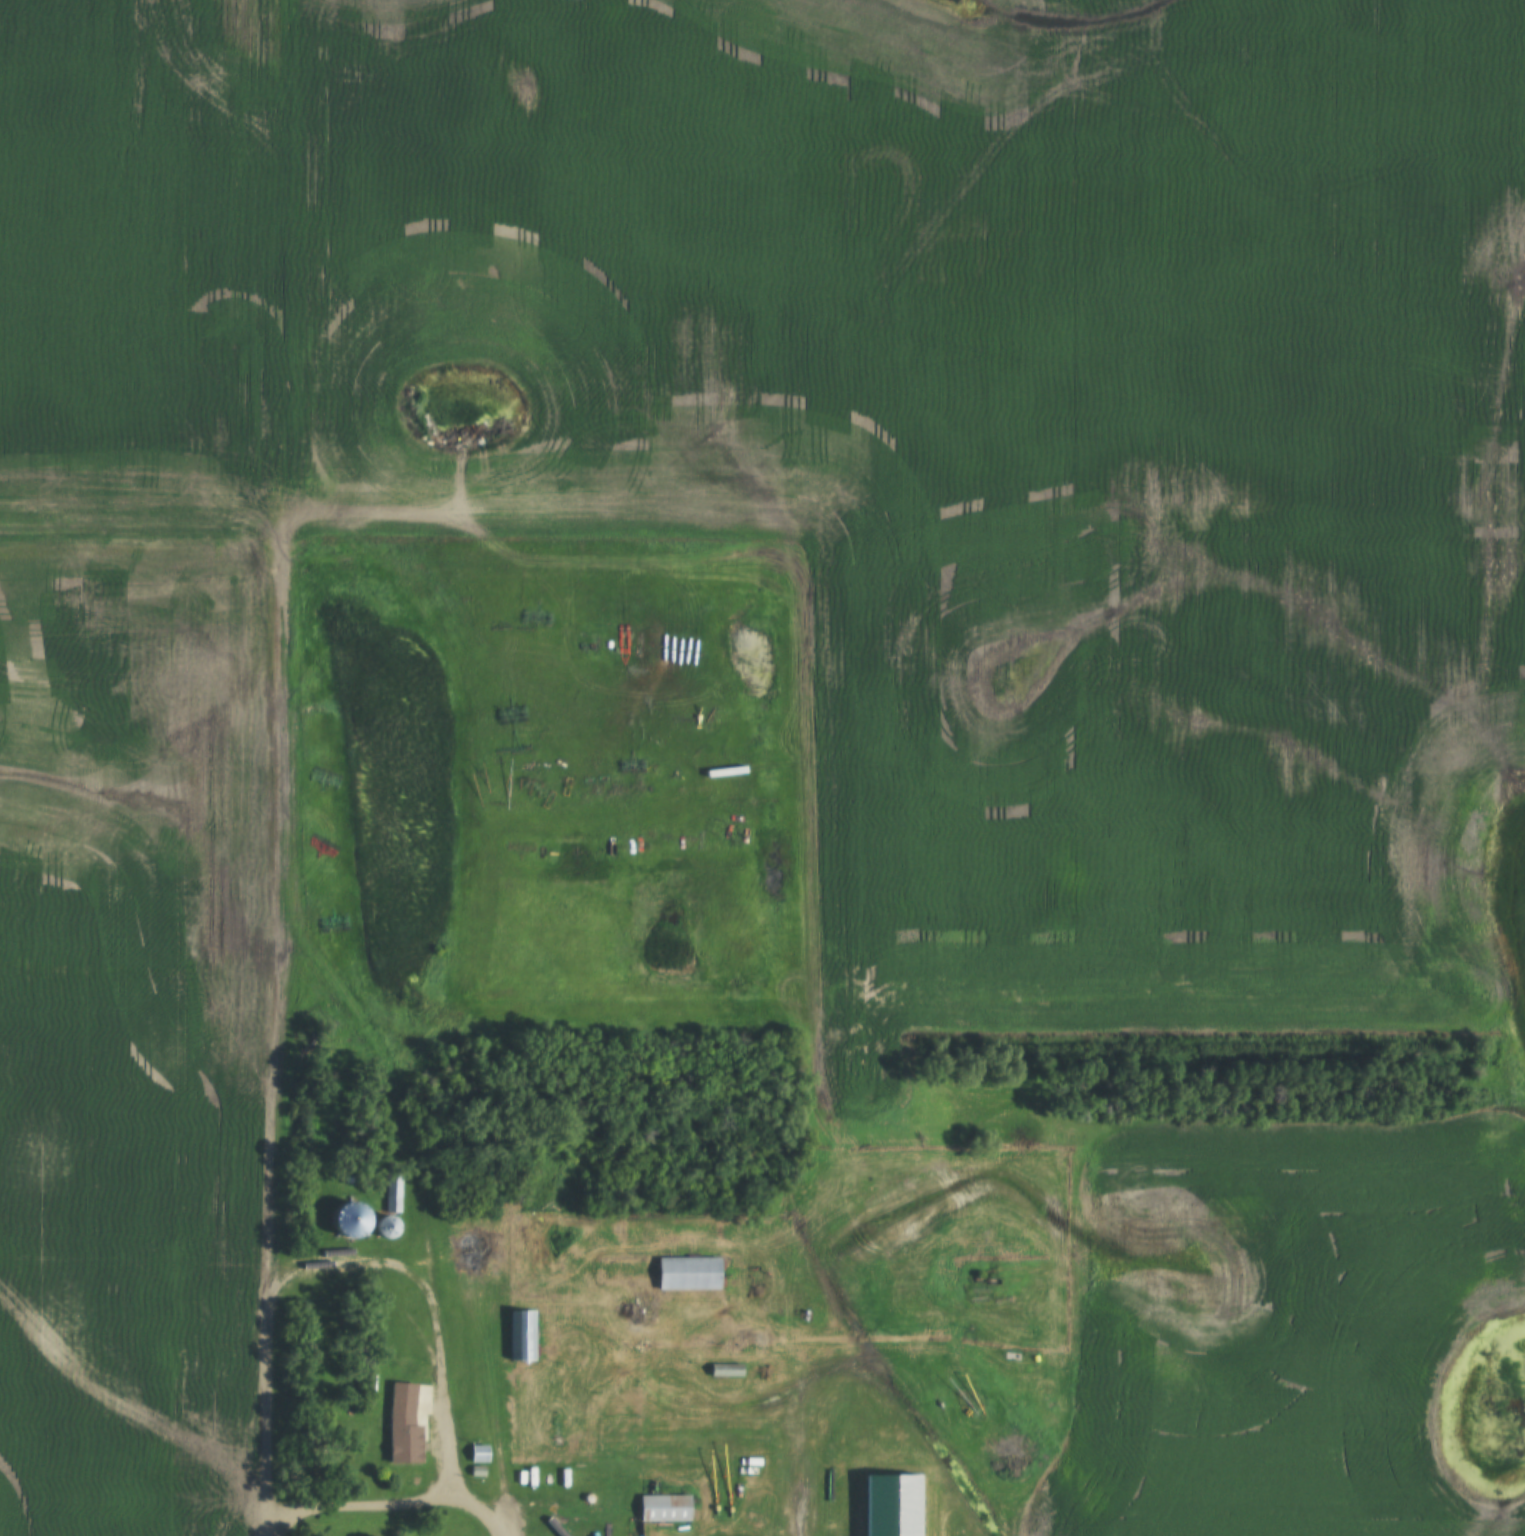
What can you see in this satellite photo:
road: (292, 258)
road: (140, 517)
road: (271, 899)
building: (393, 1192)
building: (352, 1218)
building: (387, 1226)
building: (689, 1273)
building: (522, 1335)
building: (726, 1369)
road: (272, 1409)
building: (405, 1424)
building: (479, 1452)
road: (394, 1507)
building: (665, 1508)

